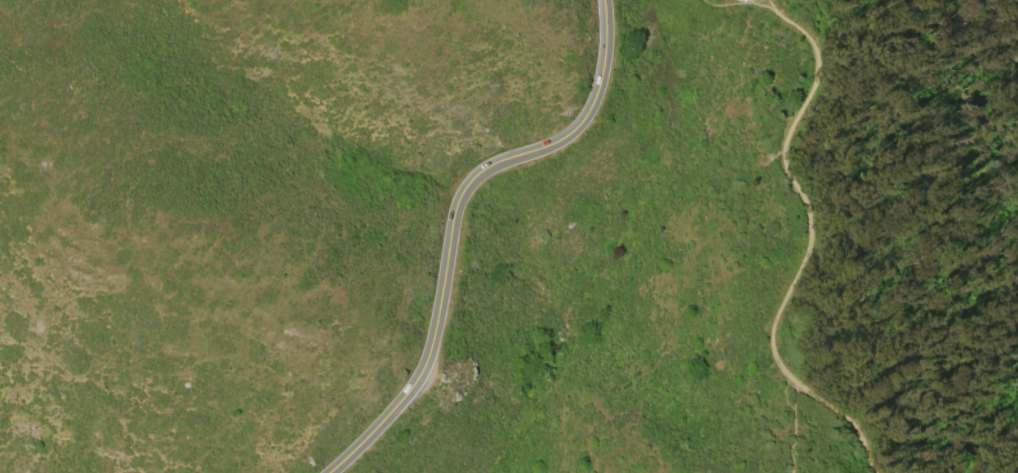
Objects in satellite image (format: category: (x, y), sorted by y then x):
road: (764, 2)
road: (733, 3)
road: (451, 217)
road: (807, 244)
road: (789, 420)

